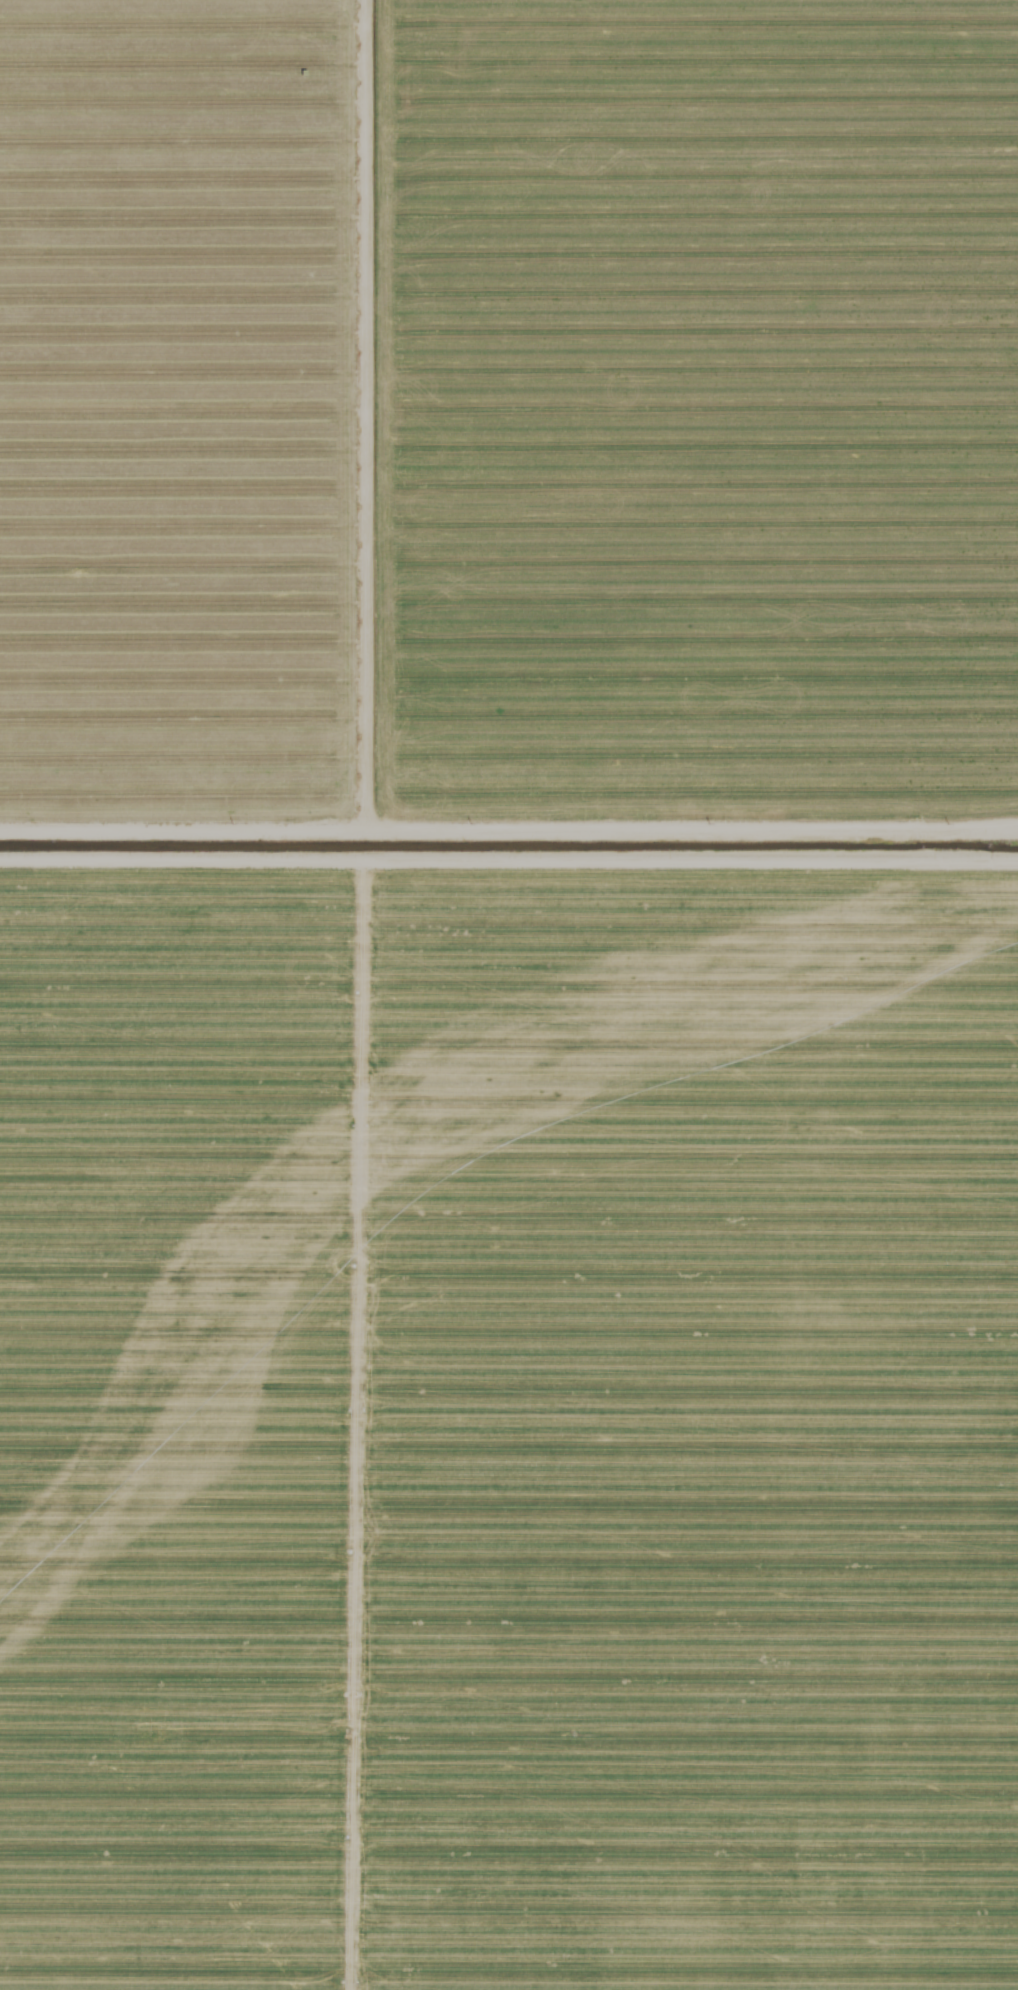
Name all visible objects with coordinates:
road: (509, 867)

